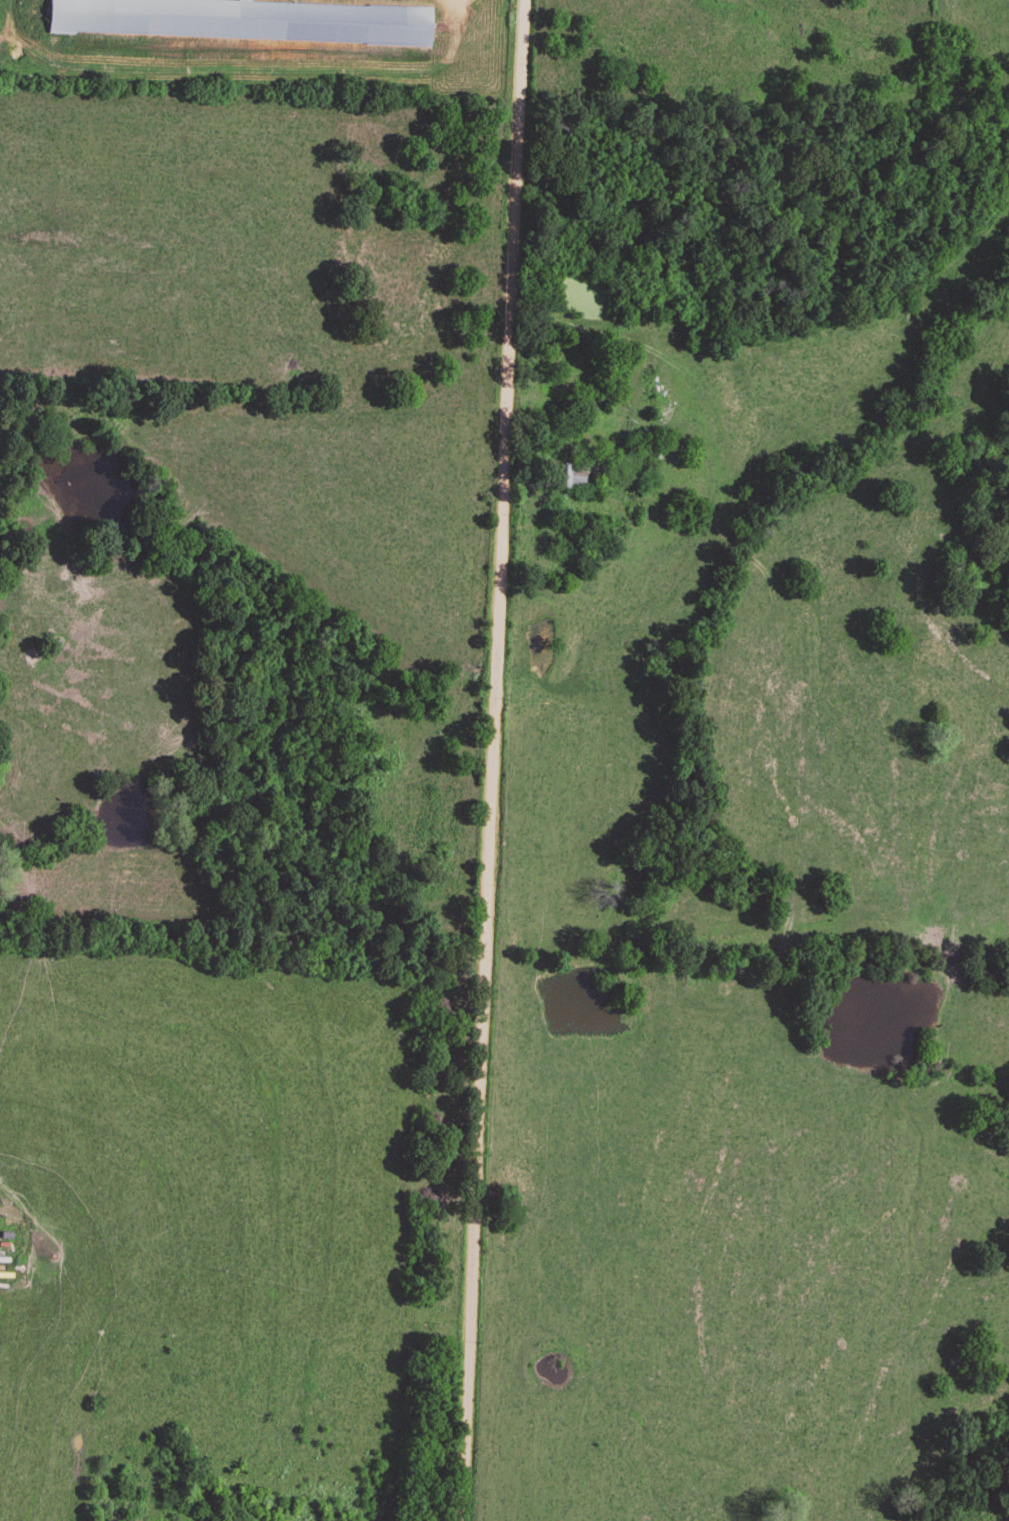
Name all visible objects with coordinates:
building: (570, 478)
road: (494, 760)

